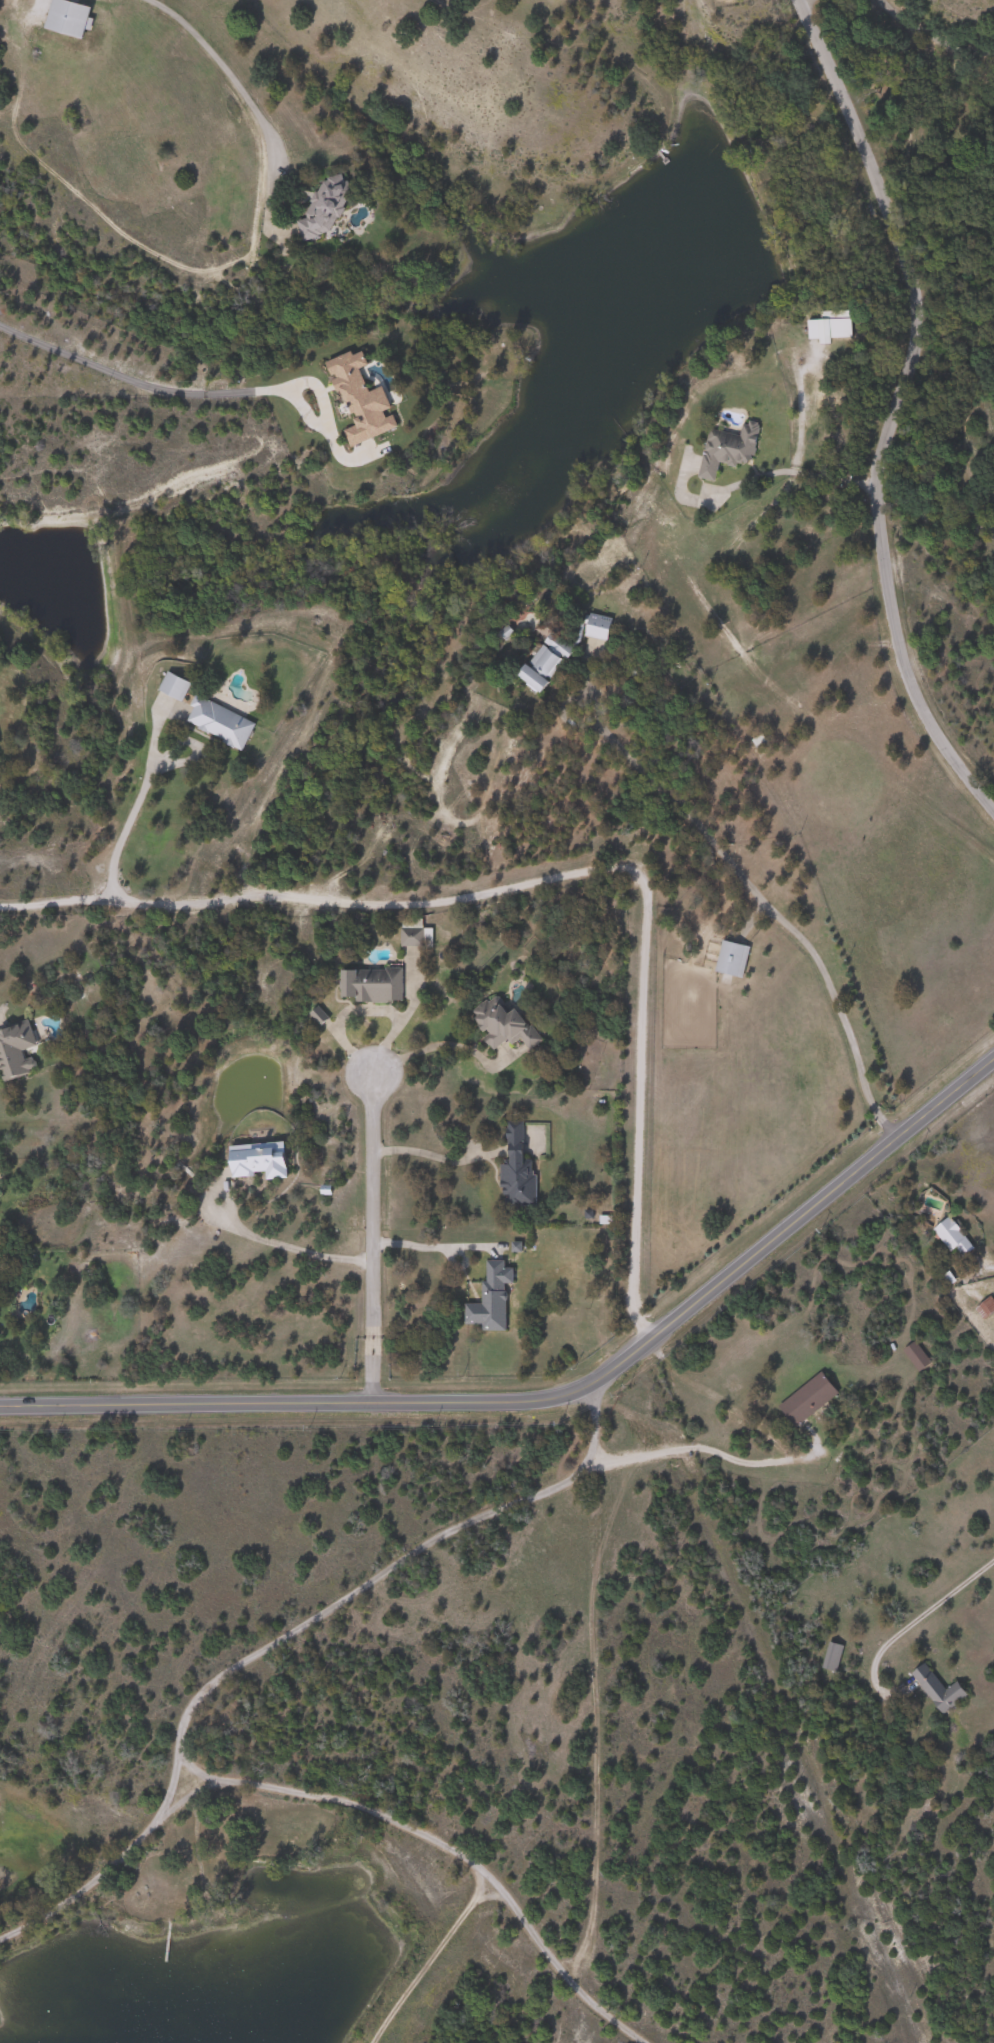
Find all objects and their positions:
road: (799, 0)
building: (69, 17)
road: (932, 37)
building: (327, 207)
road: (189, 259)
building: (834, 326)
road: (156, 383)
road: (799, 407)
road: (893, 408)
building: (729, 448)
road: (789, 471)
road: (932, 522)
building: (599, 627)
building: (545, 665)
building: (174, 686)
building: (221, 722)
road: (132, 804)
road: (554, 873)
road: (767, 906)
building: (416, 934)
building: (732, 959)
building: (373, 985)
building: (504, 1024)
road: (446, 1044)
building: (16, 1050)
road: (433, 1155)
building: (262, 1160)
building: (519, 1179)
building: (953, 1237)
road: (370, 1238)
road: (269, 1241)
road: (434, 1245)
building: (492, 1299)
building: (916, 1357)
road: (554, 1397)
building: (808, 1398)
road: (692, 1448)
road: (903, 1626)
building: (832, 1656)
building: (938, 1688)
road: (176, 1745)
road: (103, 1870)
road: (421, 1962)

